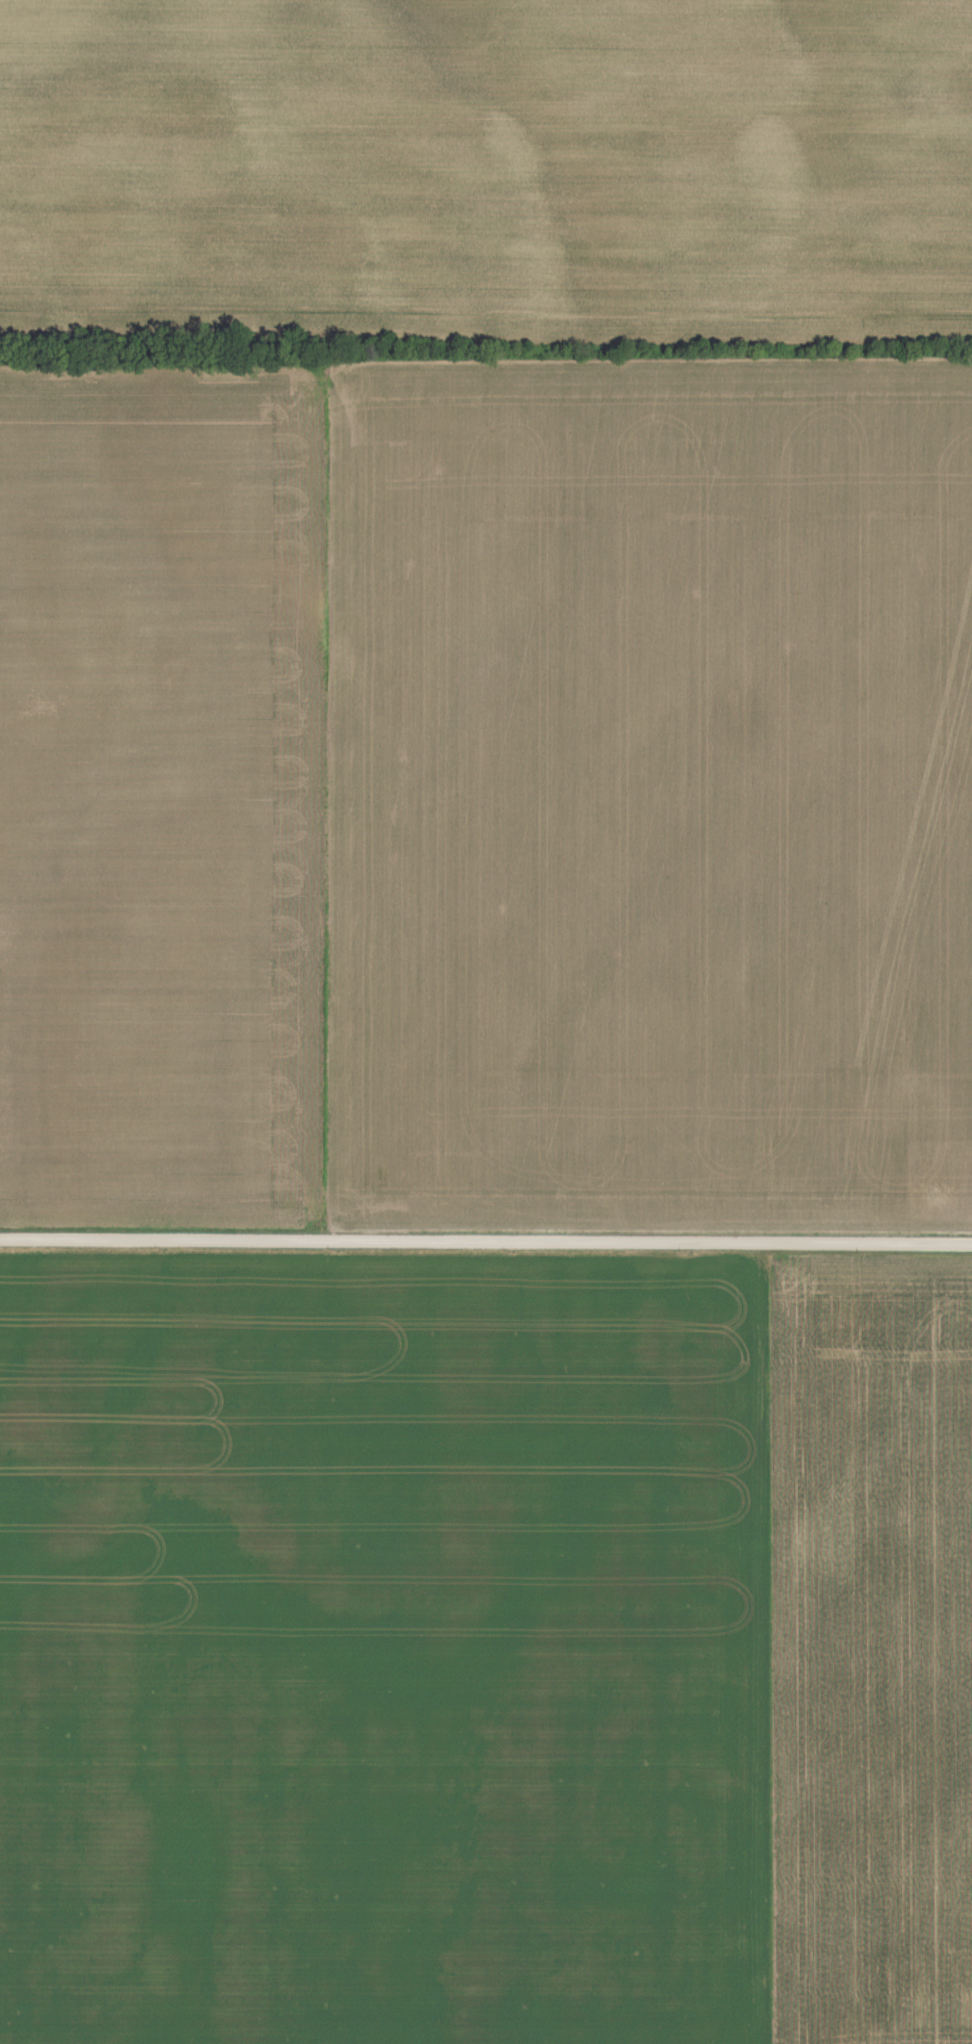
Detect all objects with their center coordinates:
road: (486, 1239)

